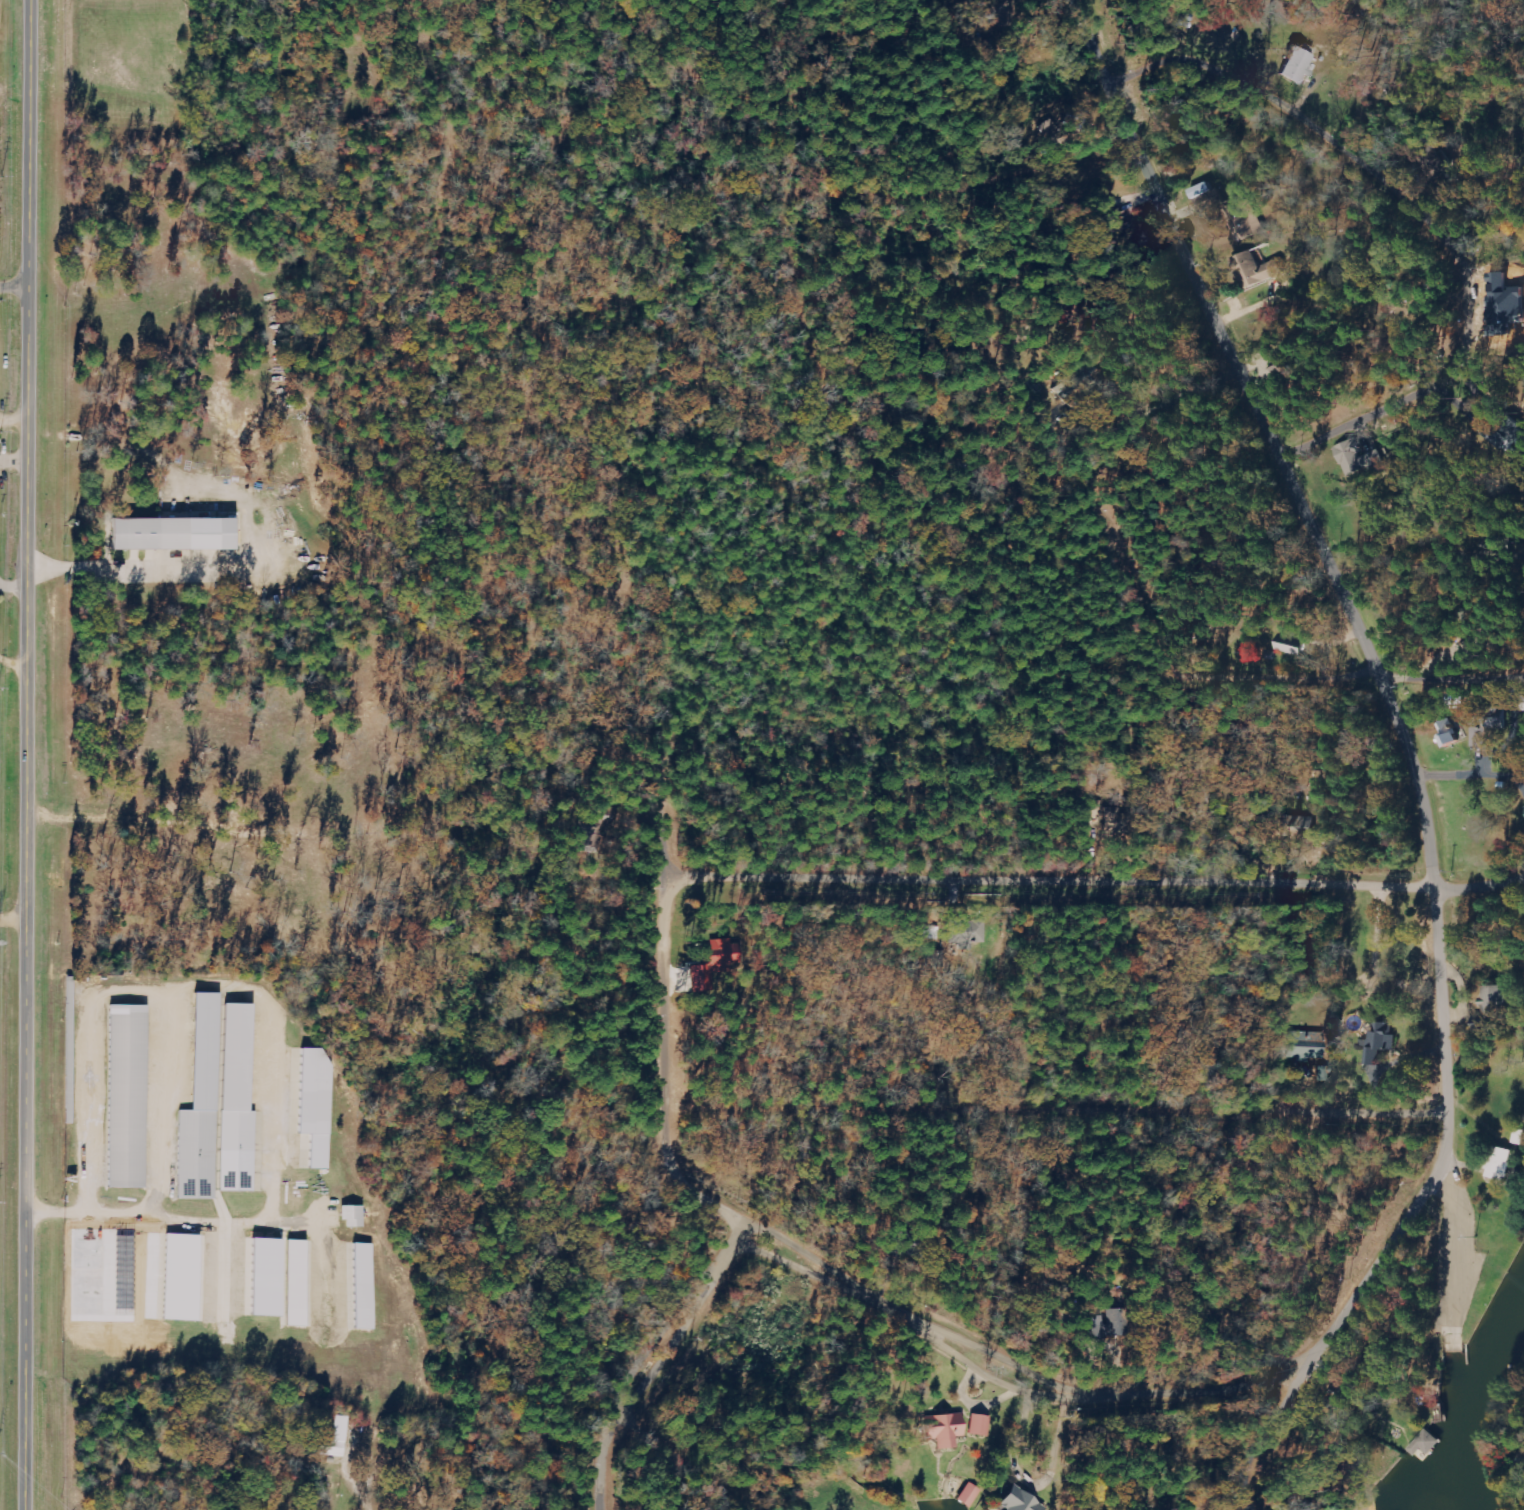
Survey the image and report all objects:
building: (1301, 66)
road: (1382, 165)
building: (1201, 191)
building: (1117, 221)
building: (1258, 268)
building: (1511, 290)
road: (17, 293)
building: (1359, 459)
building: (168, 535)
road: (942, 549)
road: (1366, 609)
road: (1073, 673)
building: (1490, 723)
building: (1452, 732)
road: (31, 755)
building: (1300, 824)
road: (1479, 879)
road: (863, 883)
building: (720, 955)
building: (1494, 1002)
road: (1049, 1007)
building: (1380, 1042)
building: (1303, 1046)
building: (126, 1096)
building: (218, 1105)
building: (316, 1105)
building: (1501, 1163)
building: (357, 1216)
road: (1006, 1264)
building: (178, 1277)
building: (266, 1277)
building: (297, 1283)
building: (364, 1286)
road: (652, 1351)
road: (1215, 1365)
road: (1521, 1368)
road: (14, 1399)
road: (978, 1406)
road: (735, 1412)
building: (980, 1425)
building: (942, 1430)
building: (336, 1439)
building: (1425, 1445)
building: (969, 1495)
building: (1017, 1501)

